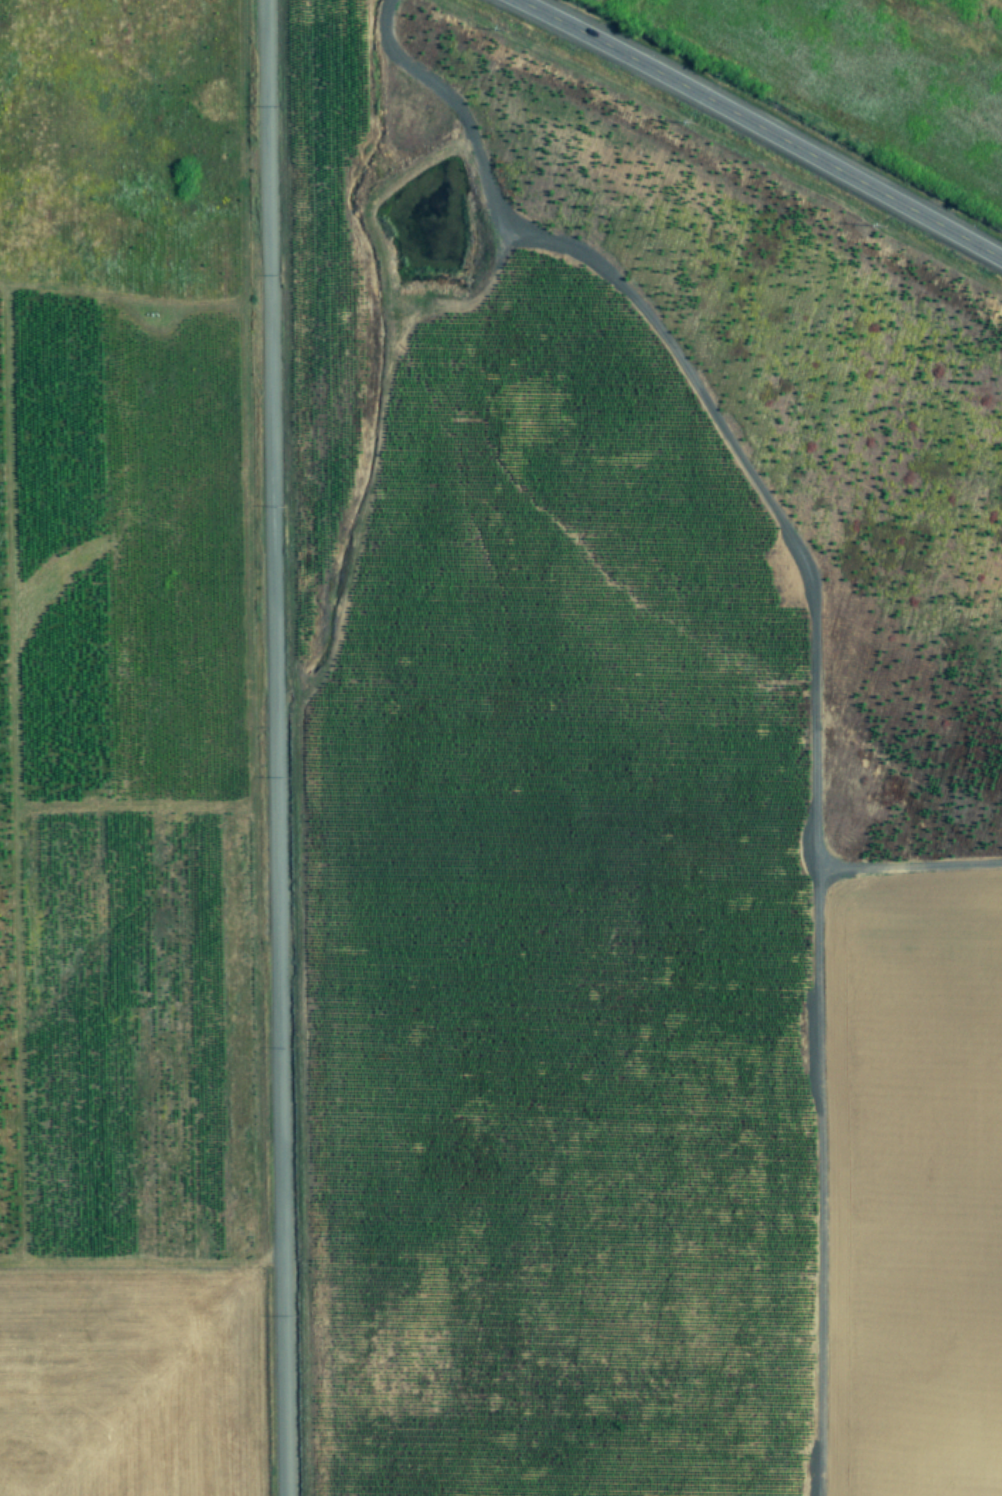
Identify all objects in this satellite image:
crop: (867, 72)
road: (761, 127)
road: (742, 459)
road: (271, 748)

